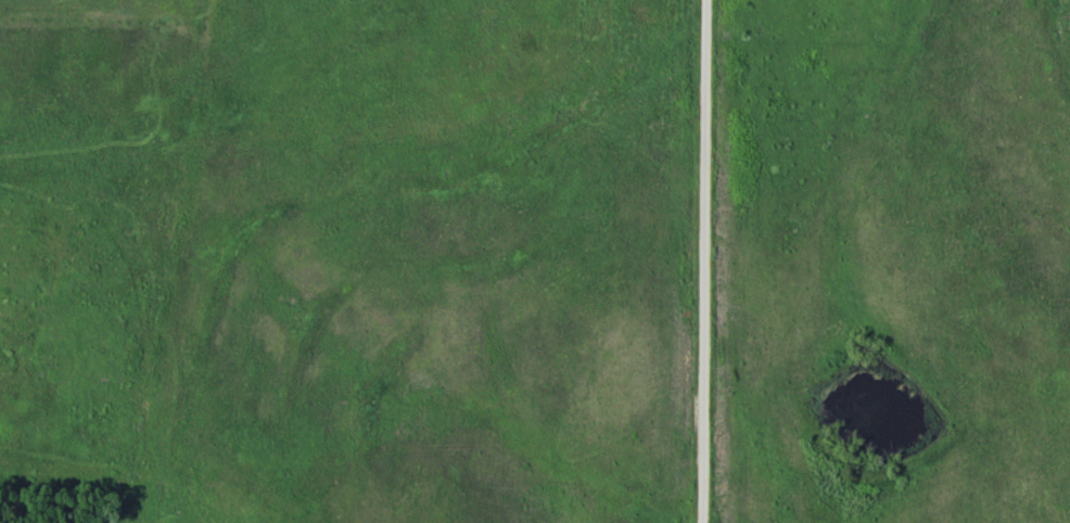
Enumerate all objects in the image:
road: (706, 261)

